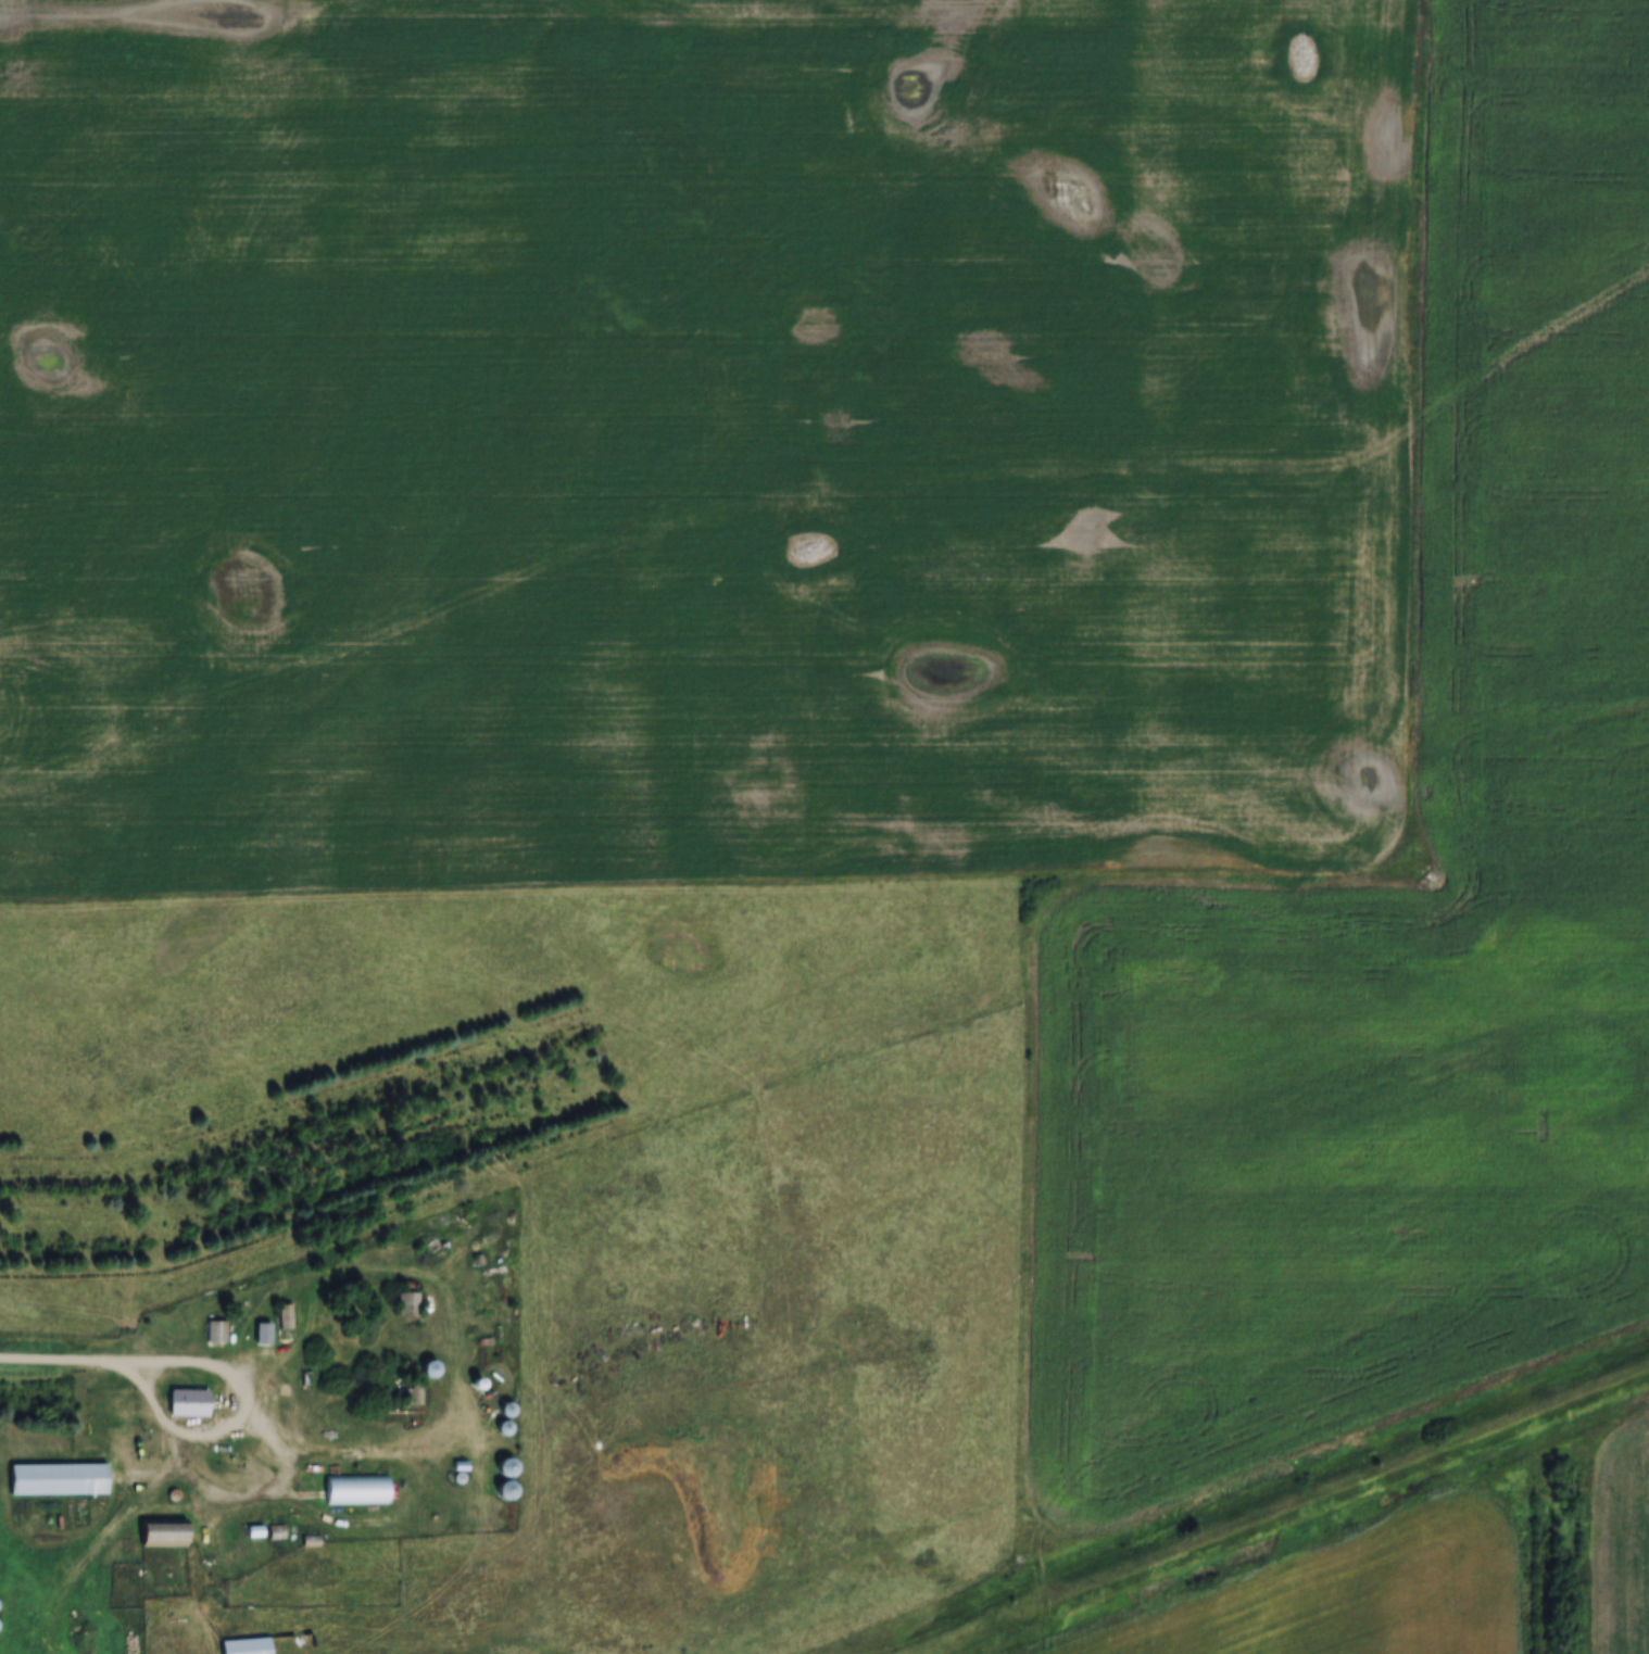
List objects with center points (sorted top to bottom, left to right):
building: (406, 1303)
building: (285, 1316)
building: (216, 1331)
road: (67, 1360)
building: (412, 1391)
building: (187, 1402)
building: (56, 1477)
road: (275, 1487)
building: (355, 1490)
building: (505, 1490)
building: (162, 1530)
building: (244, 1645)

